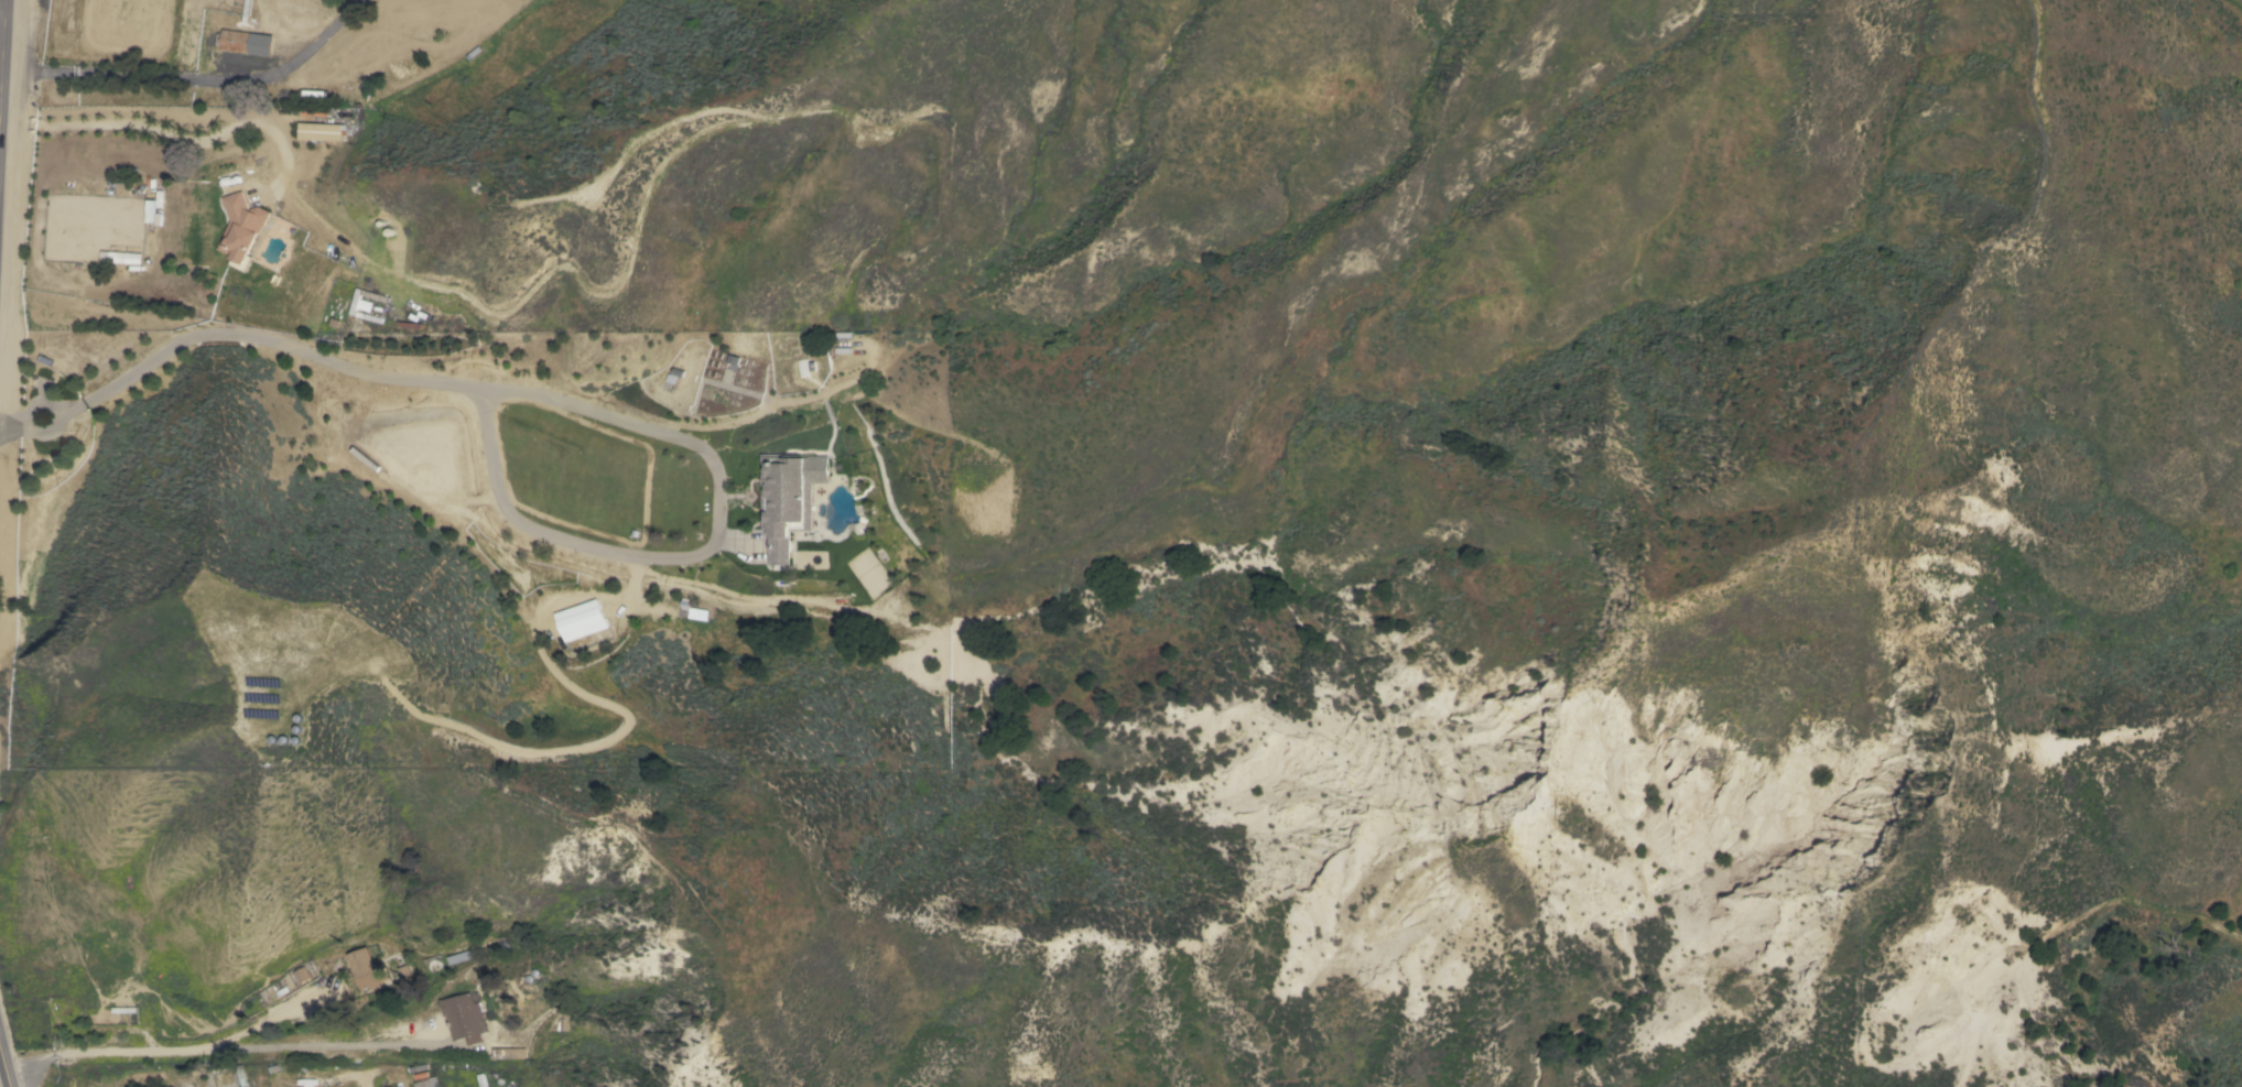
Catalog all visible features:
road: (0, 8)
road: (0, 19)
building: (247, 42)
road: (194, 78)
building: (319, 132)
road: (170, 135)
building: (123, 188)
building: (241, 229)
building: (120, 258)
building: (365, 305)
road: (80, 403)
road: (22, 422)
building: (789, 499)
road: (522, 524)
building: (690, 611)
building: (580, 620)
building: (455, 957)
building: (364, 969)
building: (300, 975)
building: (464, 1018)
road: (230, 1052)
building: (507, 1053)
building: (213, 1070)
road: (3, 1073)
building: (425, 1083)

